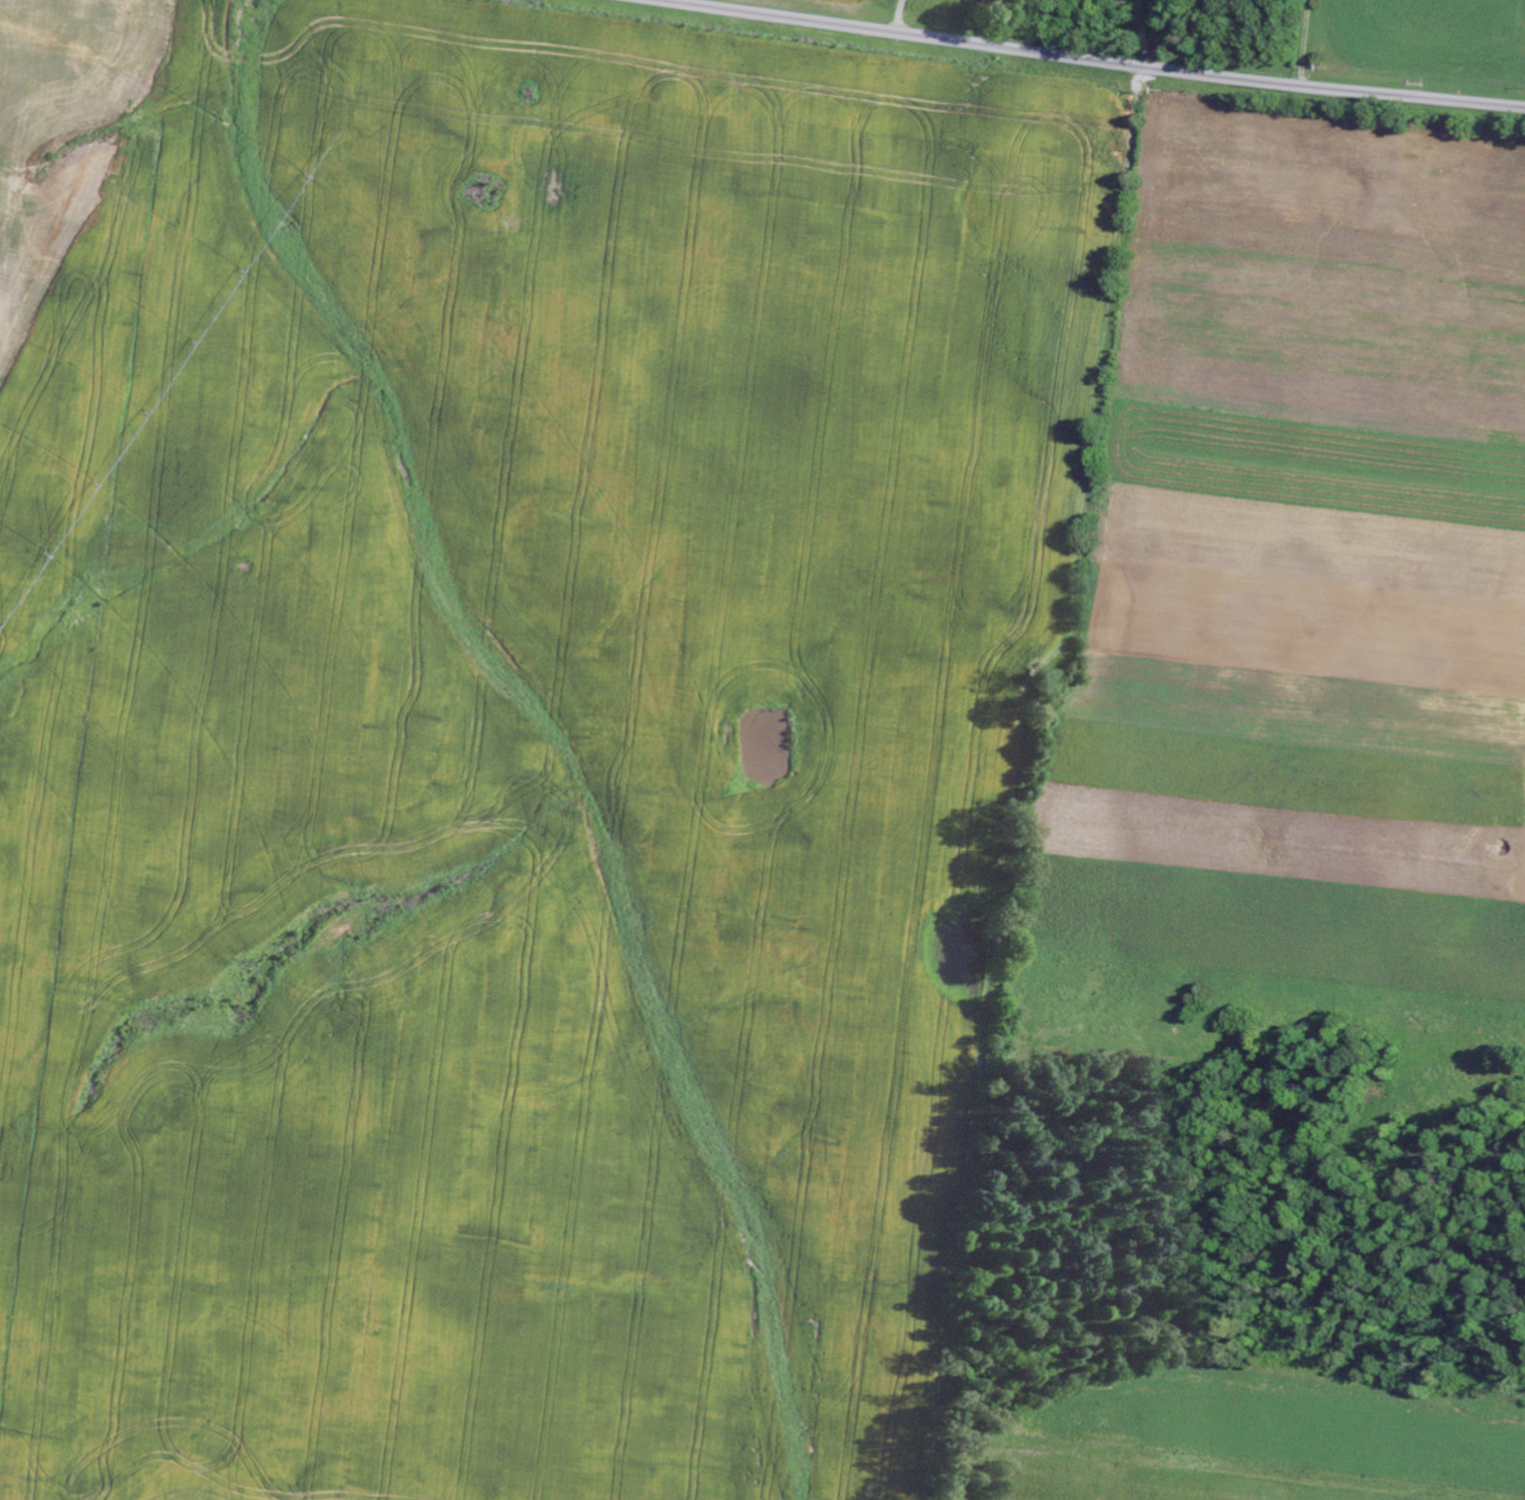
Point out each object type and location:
road: (1307, 43)
road: (1089, 61)
road: (1417, 797)

